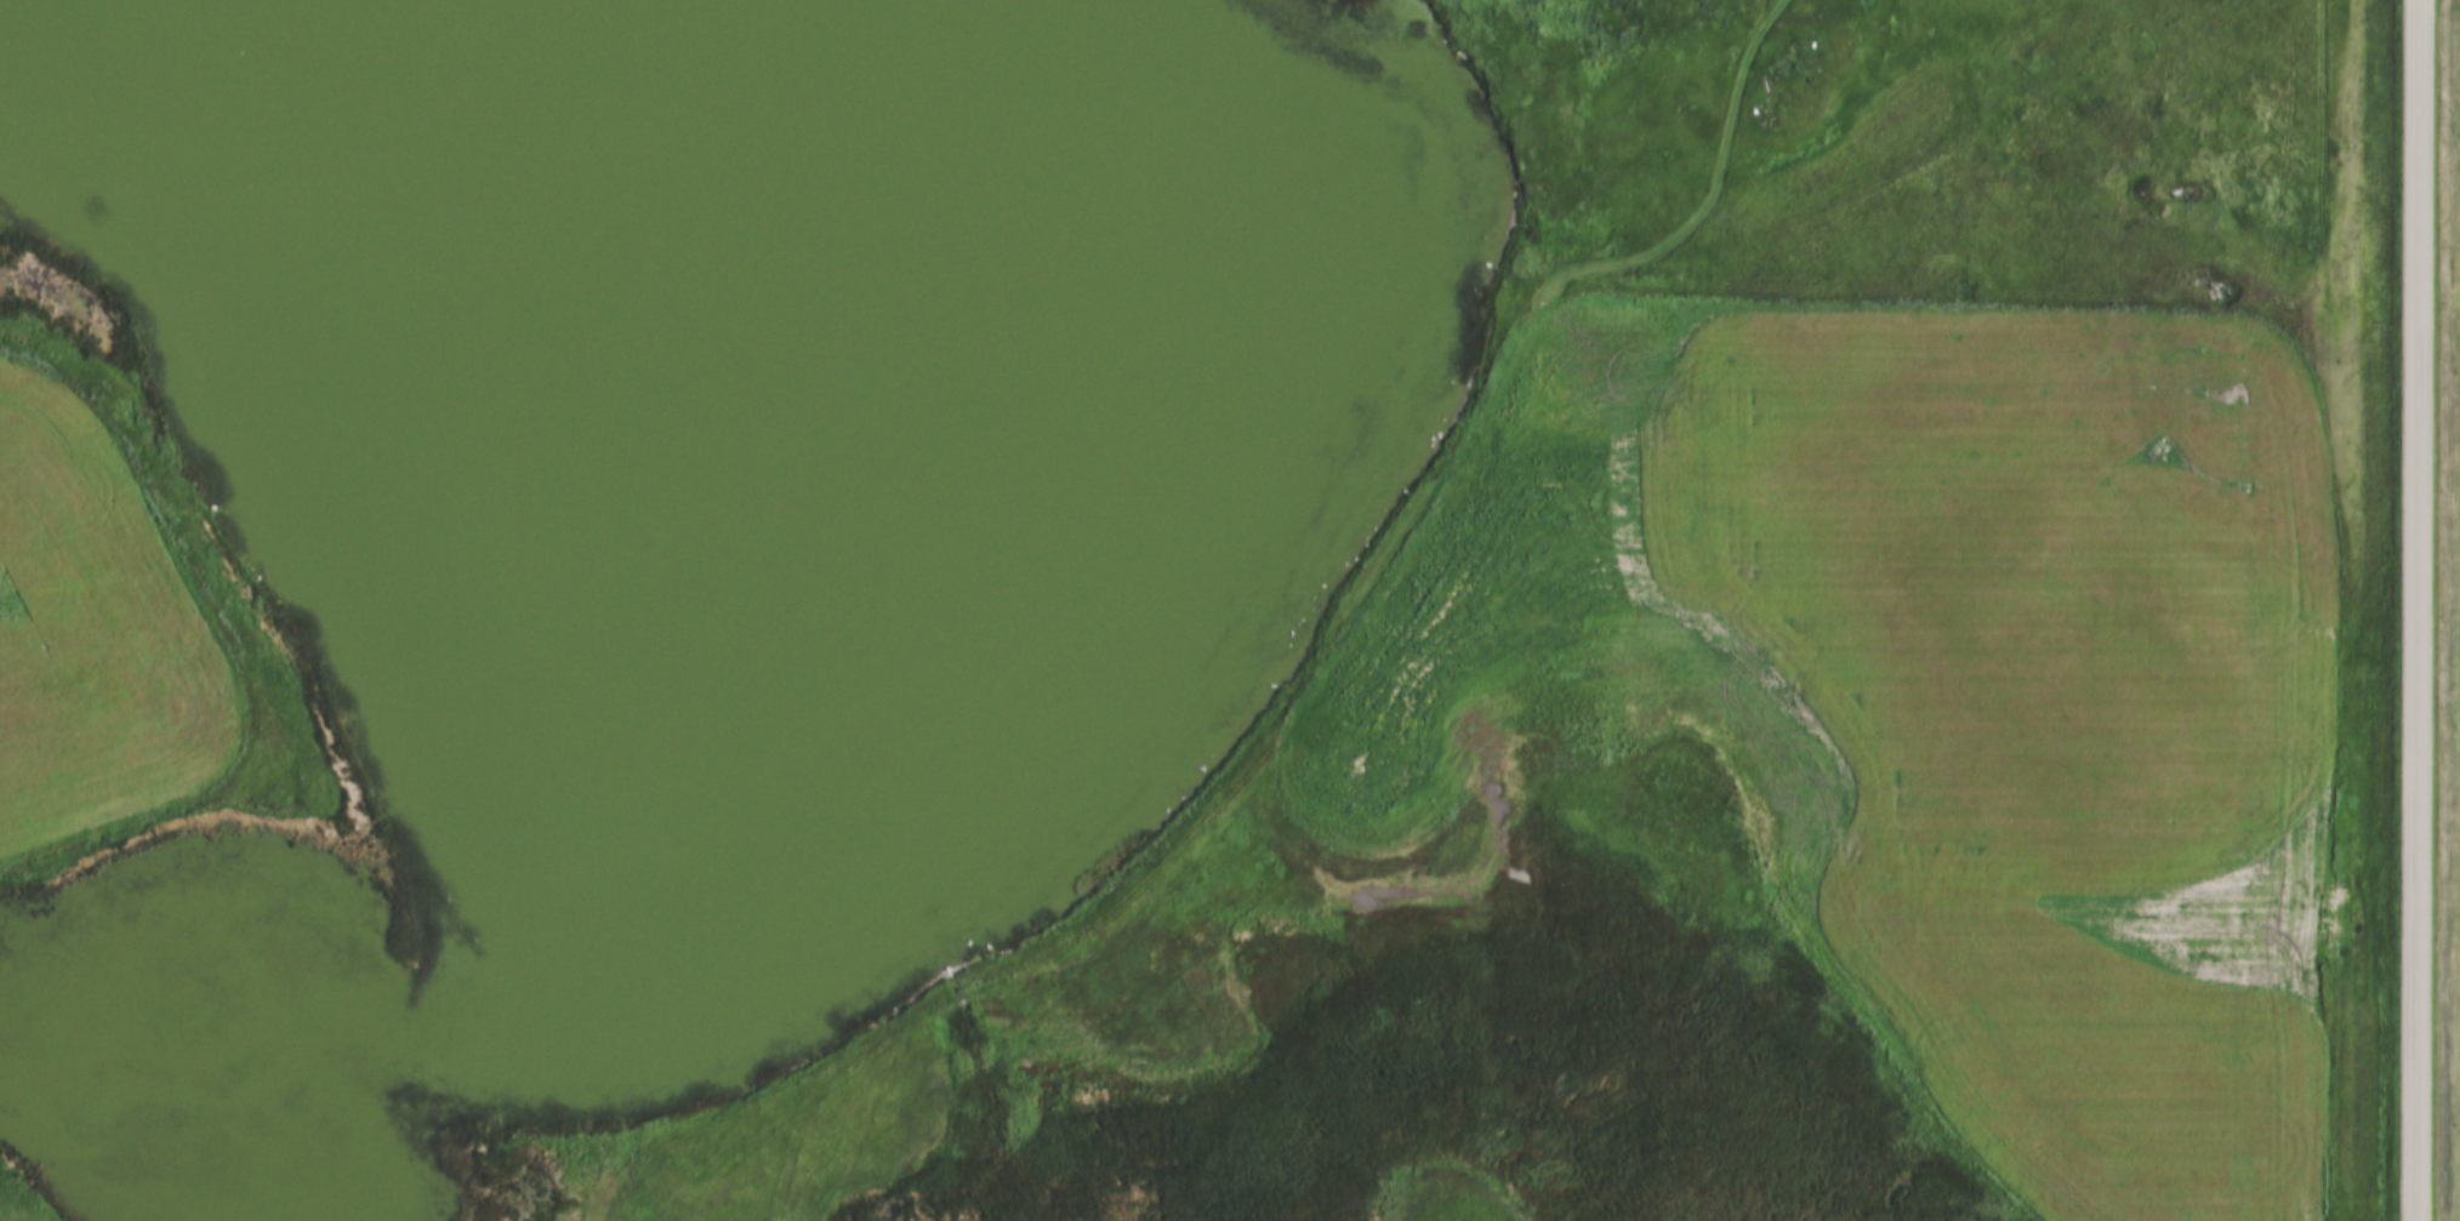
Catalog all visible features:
road: (2419, 610)

